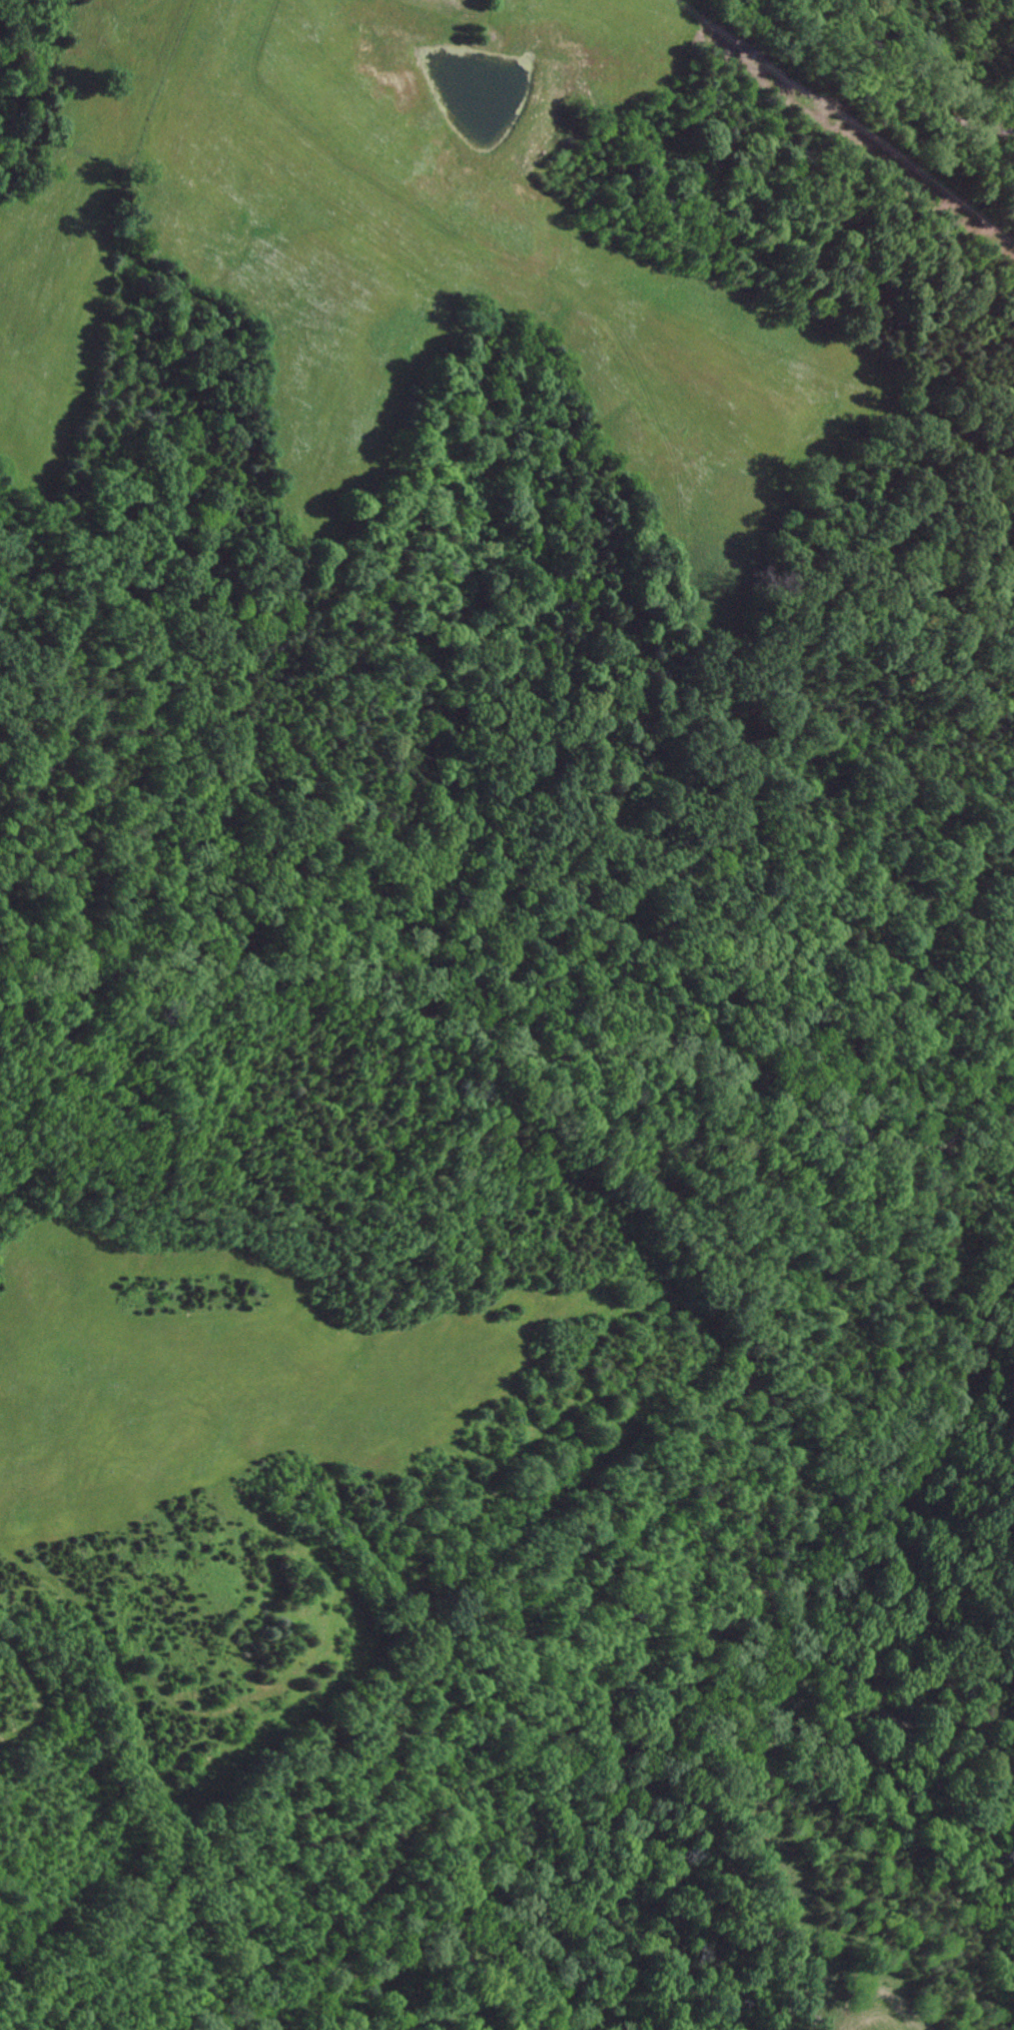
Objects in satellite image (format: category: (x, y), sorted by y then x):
road: (911, 88)

